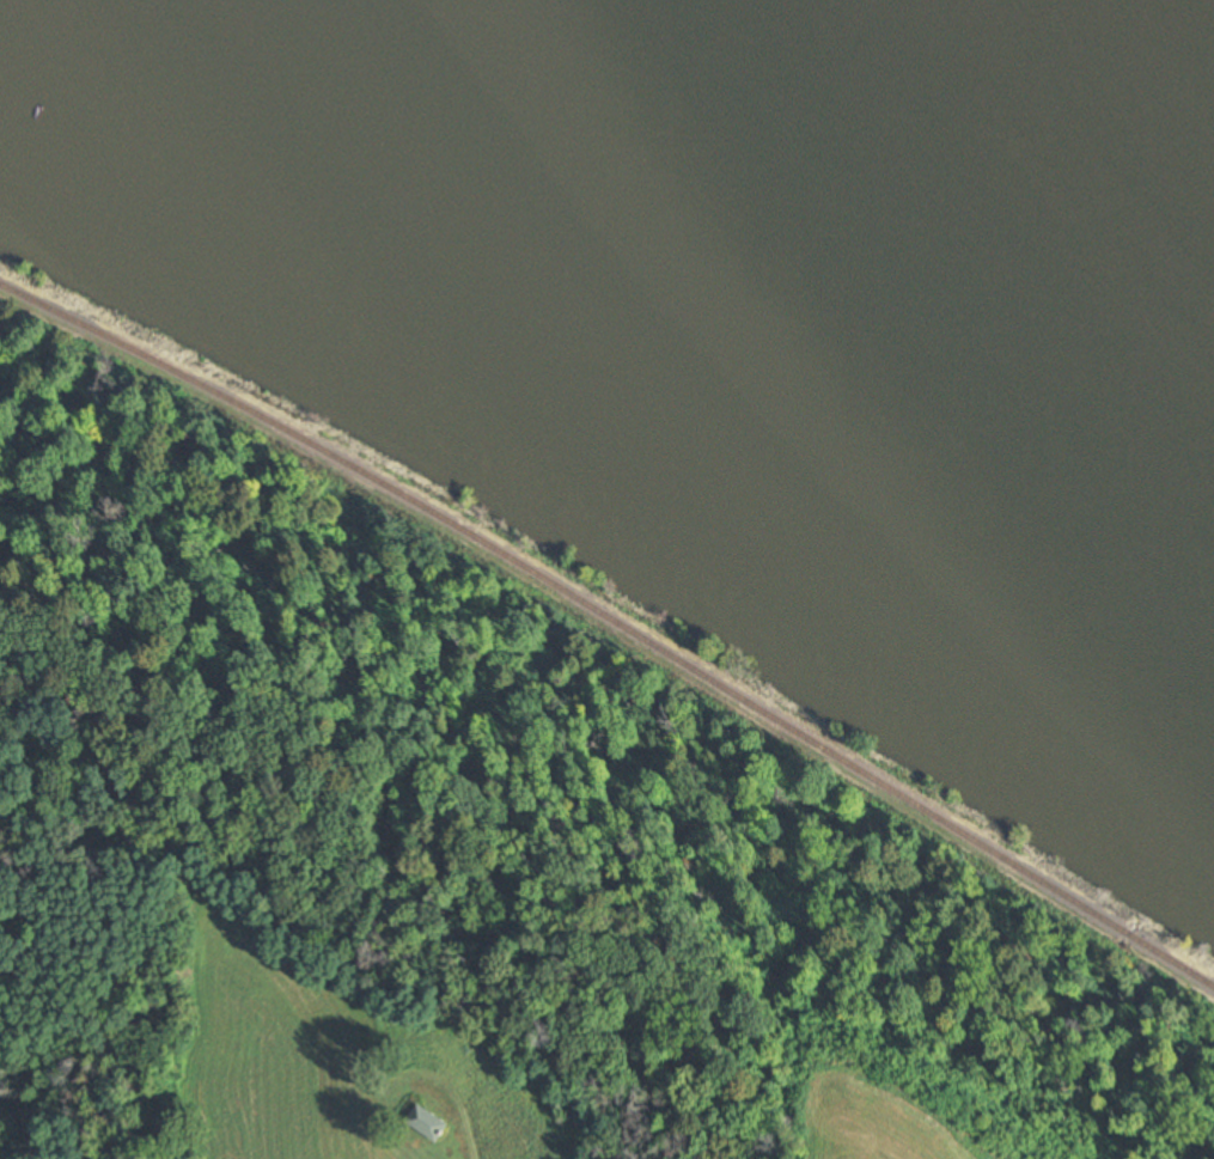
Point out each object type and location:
railway: (614, 622)
building: (427, 1123)

